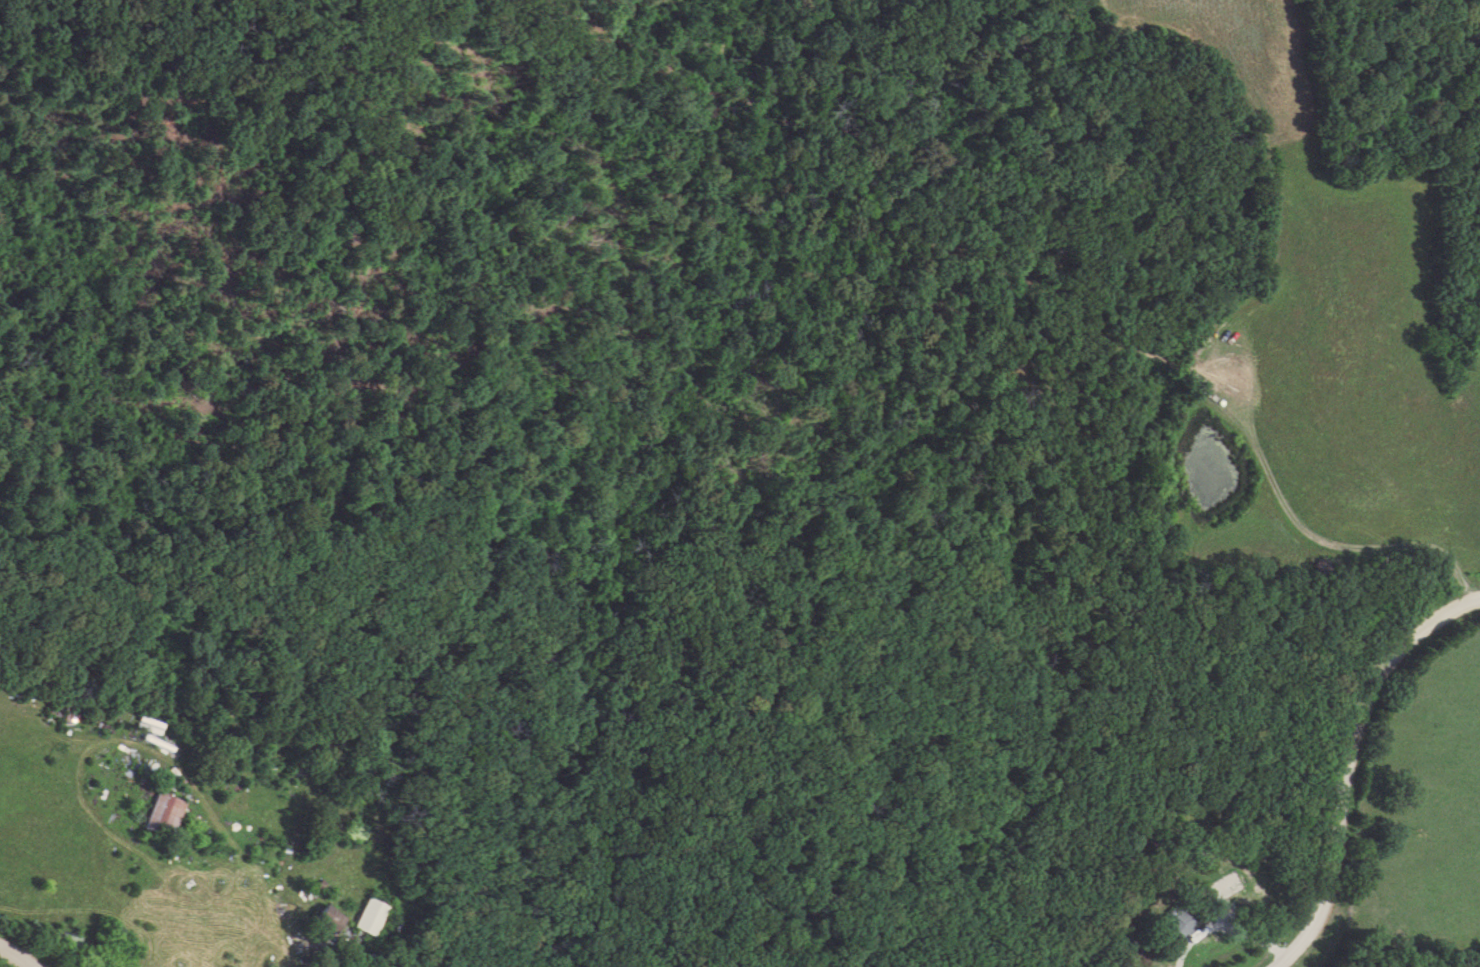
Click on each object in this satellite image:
building: (68, 713)
road: (1351, 763)
building: (162, 817)
building: (370, 919)
building: (327, 923)
building: (1178, 928)
road: (14, 956)
road: (312, 956)

